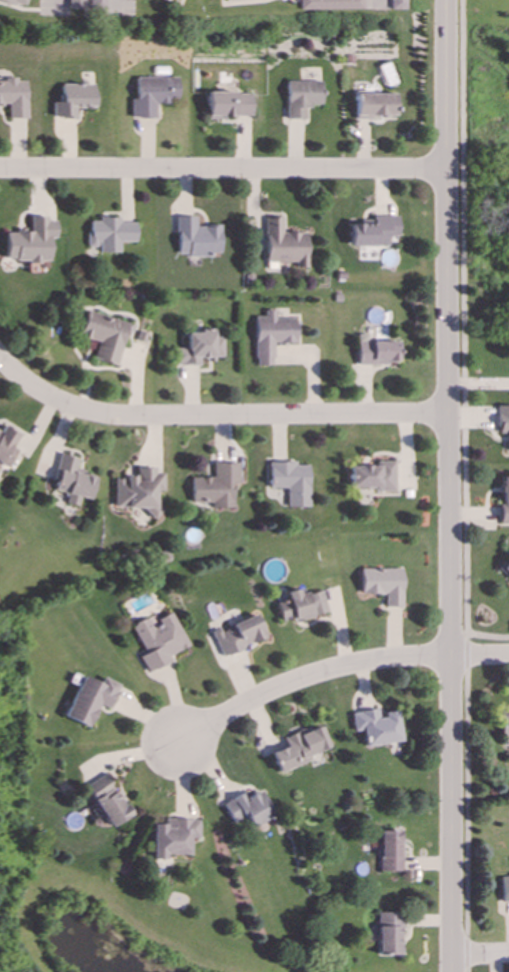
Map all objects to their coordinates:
road: (113, 0)
building: (14, 2)
building: (95, 3)
road: (58, 4)
building: (74, 4)
building: (395, 4)
building: (328, 5)
building: (152, 95)
building: (13, 97)
building: (301, 97)
building: (72, 100)
building: (228, 104)
building: (373, 105)
park: (495, 143)
road: (222, 169)
building: (372, 231)
building: (107, 234)
building: (194, 238)
building: (28, 241)
building: (282, 245)
building: (103, 336)
building: (270, 336)
building: (197, 348)
building: (374, 351)
road: (215, 416)
building: (502, 422)
building: (6, 445)
building: (371, 476)
building: (70, 481)
building: (289, 482)
building: (214, 486)
road: (447, 486)
road: (463, 486)
building: (137, 491)
building: (503, 499)
building: (504, 568)
building: (380, 584)
building: (299, 605)
building: (236, 635)
road: (486, 635)
building: (157, 641)
road: (478, 657)
road: (307, 677)
building: (89, 699)
building: (374, 726)
building: (503, 730)
building: (297, 748)
building: (105, 800)
building: (246, 808)
building: (171, 837)
building: (388, 850)
building: (504, 889)
building: (386, 932)
road: (479, 956)

